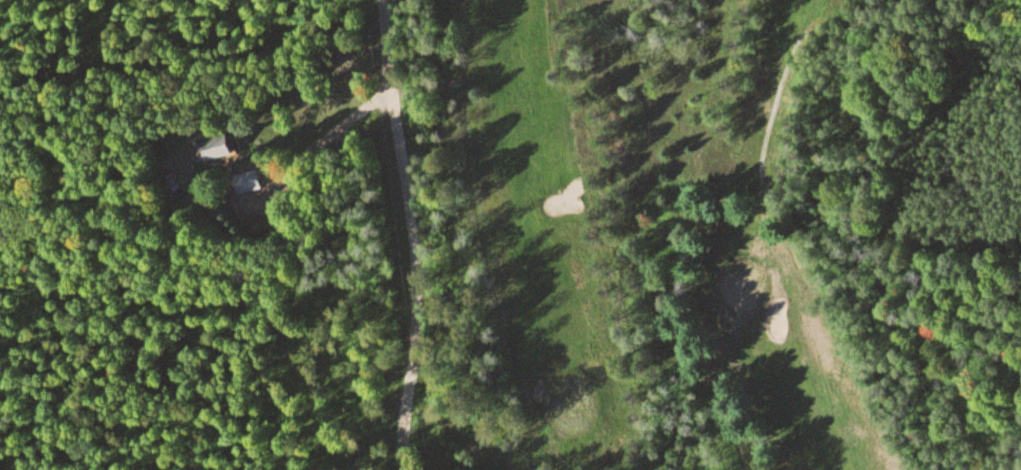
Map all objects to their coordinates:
building: (226, 146)
road: (418, 234)
park: (704, 241)

